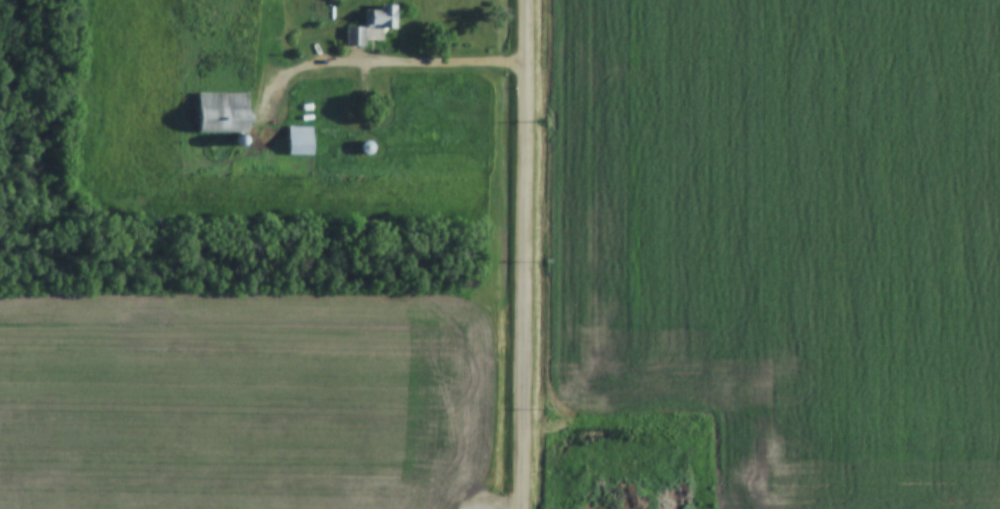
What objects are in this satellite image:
building: (380, 21)
building: (356, 36)
road: (397, 65)
building: (221, 112)
building: (240, 139)
silo: (240, 139)
building: (299, 141)
building: (366, 148)
silo: (366, 148)
road: (525, 254)

